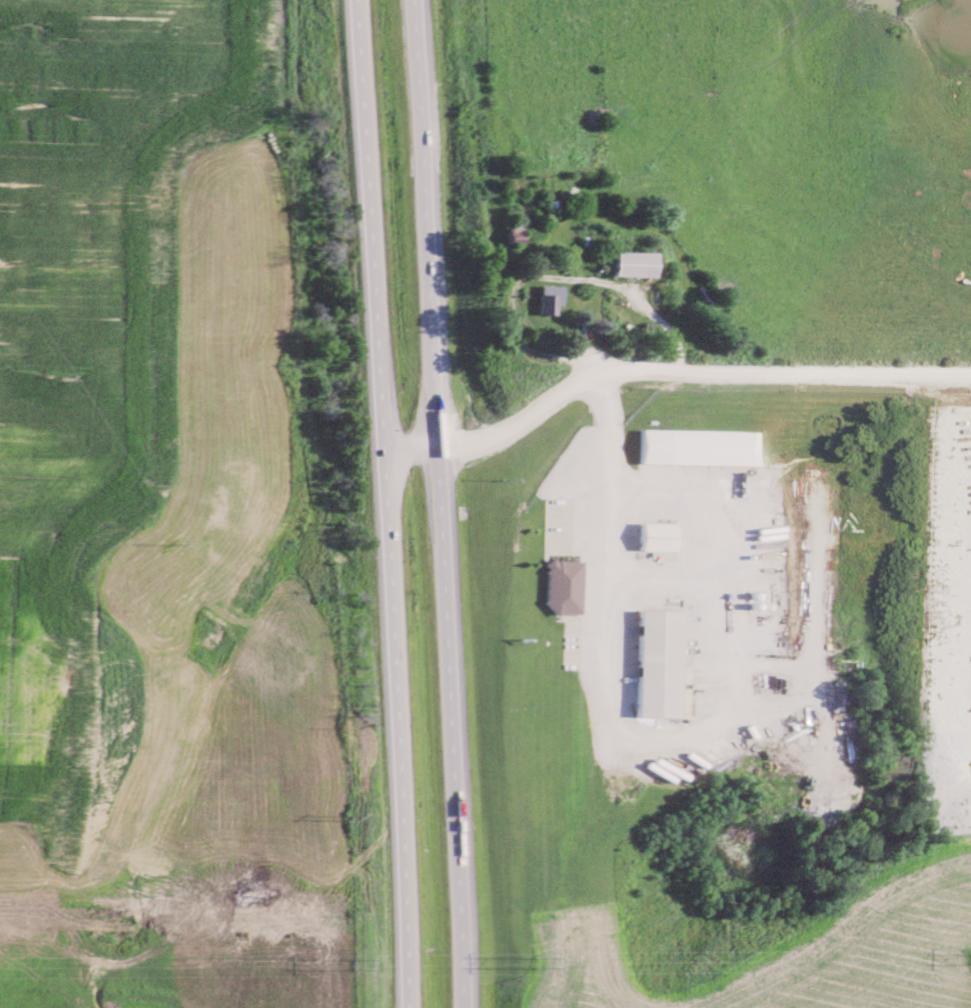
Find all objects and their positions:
building: (635, 263)
road: (627, 295)
building: (550, 297)
road: (666, 368)
building: (707, 446)
road: (384, 503)
road: (439, 504)
road: (614, 535)
building: (659, 535)
building: (566, 585)
building: (660, 662)
power tower: (536, 965)
power tower: (361, 967)

